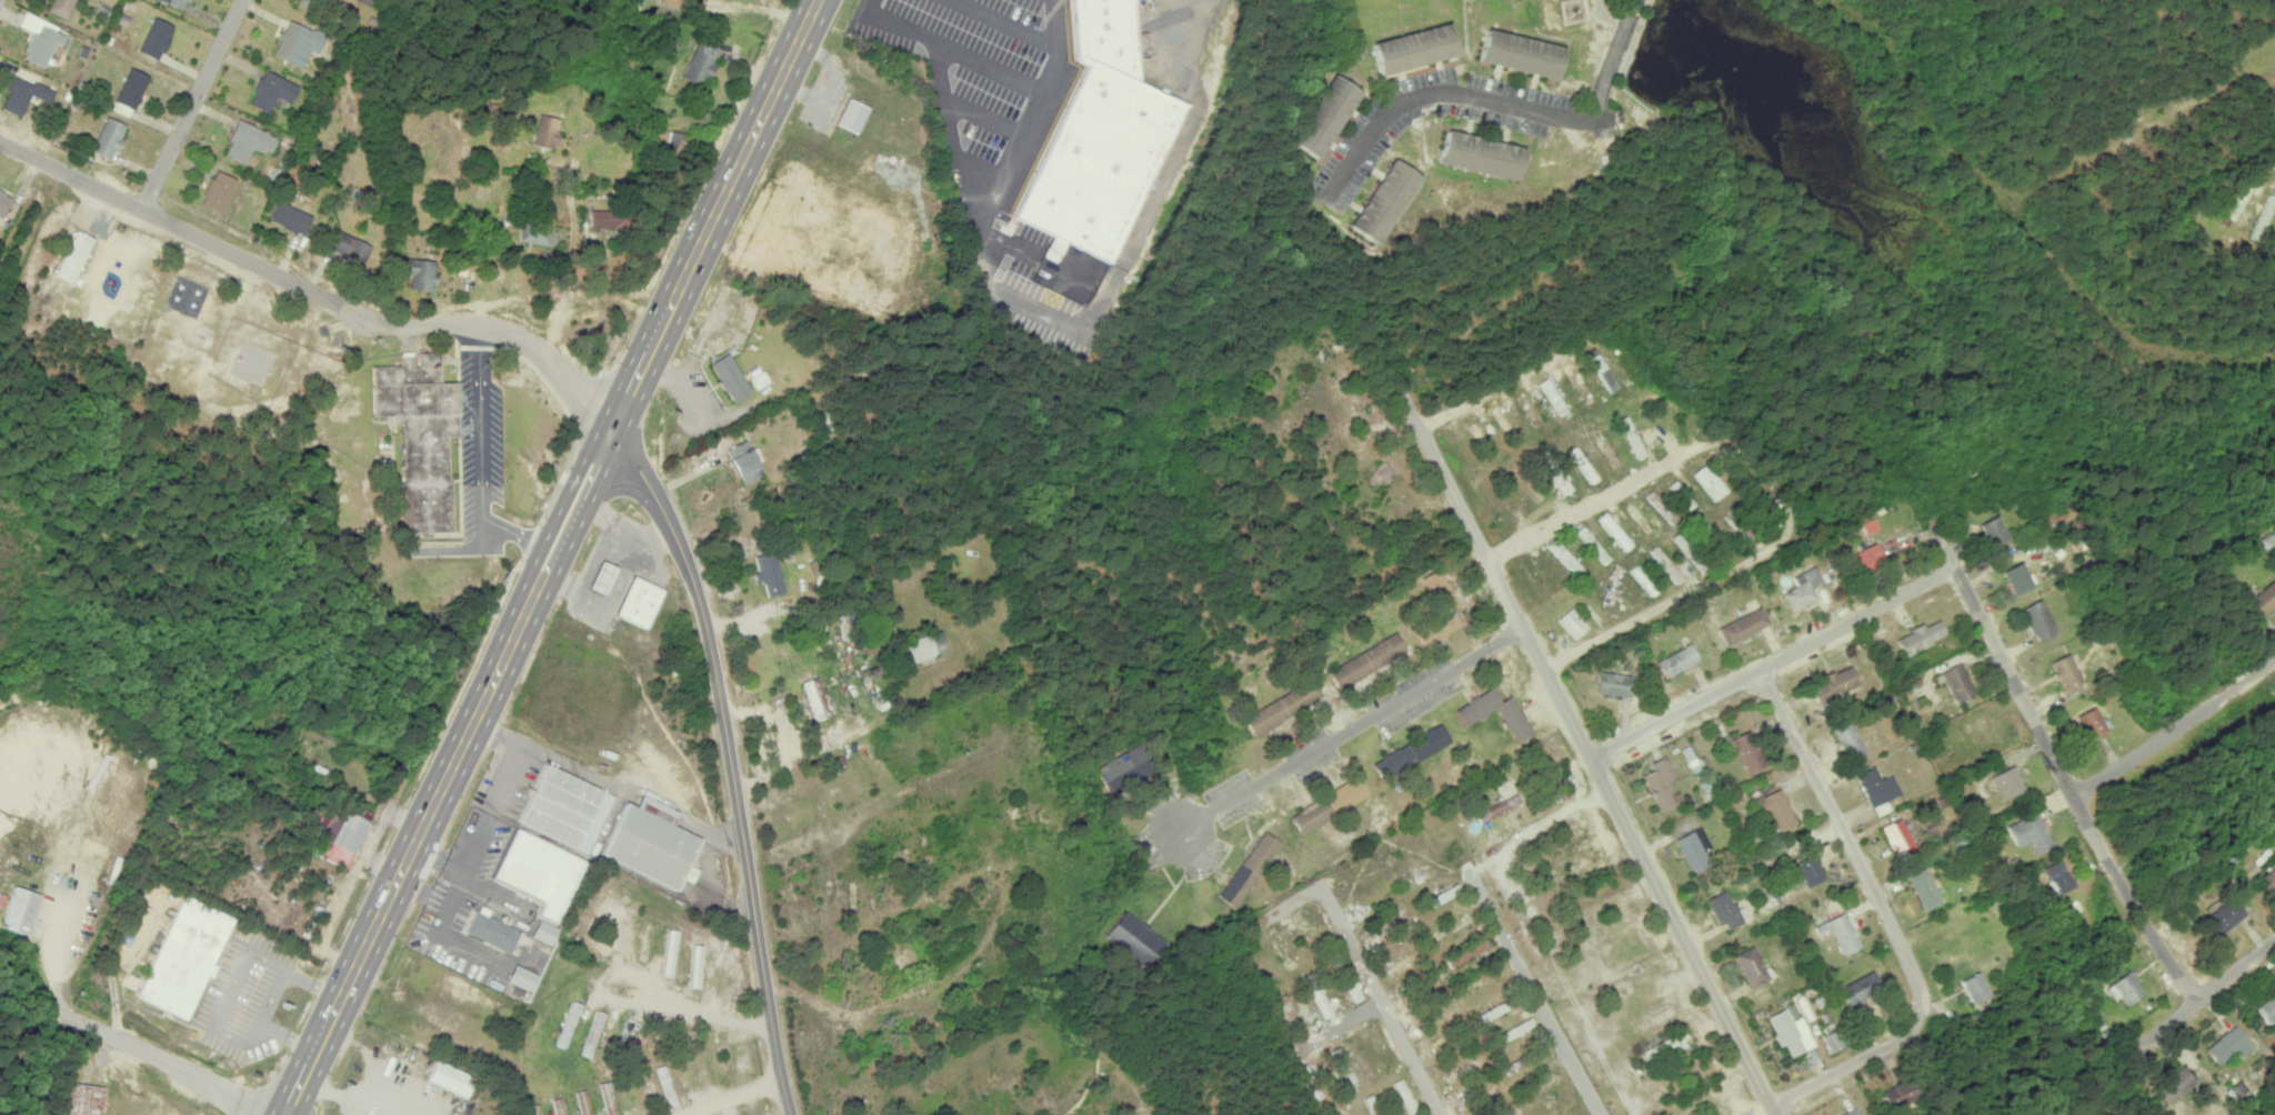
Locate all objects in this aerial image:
building: (177, 2)
building: (673, 2)
building: (308, 4)
dam: (1665, 7)
building: (61, 8)
building: (156, 38)
building: (40, 39)
building: (297, 43)
dam: (1646, 43)
building: (1414, 48)
building: (1521, 53)
road: (1613, 61)
building: (701, 63)
road: (1444, 90)
building: (129, 91)
building: (271, 91)
building: (23, 94)
road: (194, 104)
building: (852, 115)
building: (1324, 115)
building: (547, 132)
building: (1100, 134)
building: (108, 138)
building: (248, 141)
building: (672, 144)
building: (1481, 154)
road: (980, 164)
building: (218, 191)
building: (2238, 197)
building: (1383, 201)
building: (3, 202)
building: (2263, 217)
building: (290, 218)
building: (609, 219)
building: (538, 233)
building: (1056, 244)
building: (348, 245)
building: (73, 257)
building: (418, 272)
road: (318, 293)
building: (1600, 369)
building: (730, 378)
building: (1577, 383)
road: (1493, 385)
building: (1552, 396)
building: (1532, 412)
building: (1503, 421)
building: (421, 435)
building: (1479, 435)
building: (1632, 436)
building: (1606, 448)
building: (744, 461)
building: (1582, 464)
building: (1710, 481)
building: (1560, 482)
road: (1776, 483)
building: (1661, 506)
building: (1638, 516)
building: (1614, 531)
building: (1993, 531)
road: (551, 556)
building: (1866, 557)
building: (1566, 559)
building: (1666, 564)
building: (769, 573)
building: (601, 577)
building: (2017, 577)
building: (1643, 579)
building: (1803, 589)
building: (2262, 600)
building: (639, 602)
building: (1440, 610)
building: (2038, 620)
building: (1572, 623)
building: (1743, 625)
building: (1921, 636)
building: (925, 646)
building: (1365, 661)
building: (1676, 661)
road: (1774, 662)
building: (2066, 672)
building: (1958, 682)
building: (1836, 683)
building: (1611, 685)
building: (815, 699)
road: (1562, 703)
building: (1272, 713)
building: (1512, 717)
building: (2093, 723)
road: (1351, 724)
road: (2179, 732)
road: (2046, 735)
building: (1847, 740)
building: (1427, 742)
building: (1746, 752)
building: (1691, 759)
building: (1392, 762)
road: (732, 767)
building: (1547, 769)
building: (1123, 770)
building: (2010, 782)
building: (1661, 783)
building: (1877, 786)
building: (1506, 794)
building: (1329, 804)
road: (884, 807)
building: (567, 808)
building: (1775, 808)
building: (360, 812)
building: (337, 833)
building: (2032, 833)
building: (1901, 834)
building: (1564, 841)
road: (1846, 842)
building: (652, 843)
building: (1694, 848)
building: (1575, 867)
building: (1247, 868)
building: (1808, 871)
building: (539, 873)
building: (2059, 876)
building: (2267, 882)
building: (1924, 887)
building: (1442, 895)
road: (1001, 903)
building: (19, 910)
building: (1726, 910)
building: (2222, 916)
building: (1452, 925)
building: (617, 926)
building: (1302, 928)
building: (492, 932)
building: (545, 932)
building: (1838, 932)
building: (1135, 938)
building: (670, 953)
building: (1467, 953)
building: (186, 956)
building: (695, 965)
building: (1403, 965)
building: (1752, 965)
building: (1472, 985)
building: (1351, 987)
building: (1861, 987)
building: (1976, 987)
building: (2123, 987)
road: (1534, 988)
road: (2205, 988)
road: (680, 996)
building: (1319, 998)
road: (1380, 1001)
building: (1491, 1012)
building: (1289, 1014)
building: (1443, 1014)
building: (568, 1024)
building: (1514, 1031)
building: (1790, 1032)
building: (593, 1033)
building: (1832, 1041)
building: (2227, 1045)
road: (163, 1059)
road: (1851, 1062)
building: (1344, 1068)
building: (1465, 1068)
building: (450, 1078)
building: (2175, 1085)
building: (2238, 1089)
building: (1485, 1094)
building: (1900, 1095)
road: (731, 1096)
building: (1405, 1097)
building: (608, 1098)
building: (81, 1099)
building: (583, 1102)
building: (1372, 1105)
building: (557, 1106)
building: (1339, 1108)
building: (533, 1109)
building: (1513, 1111)
building: (1852, 1112)

